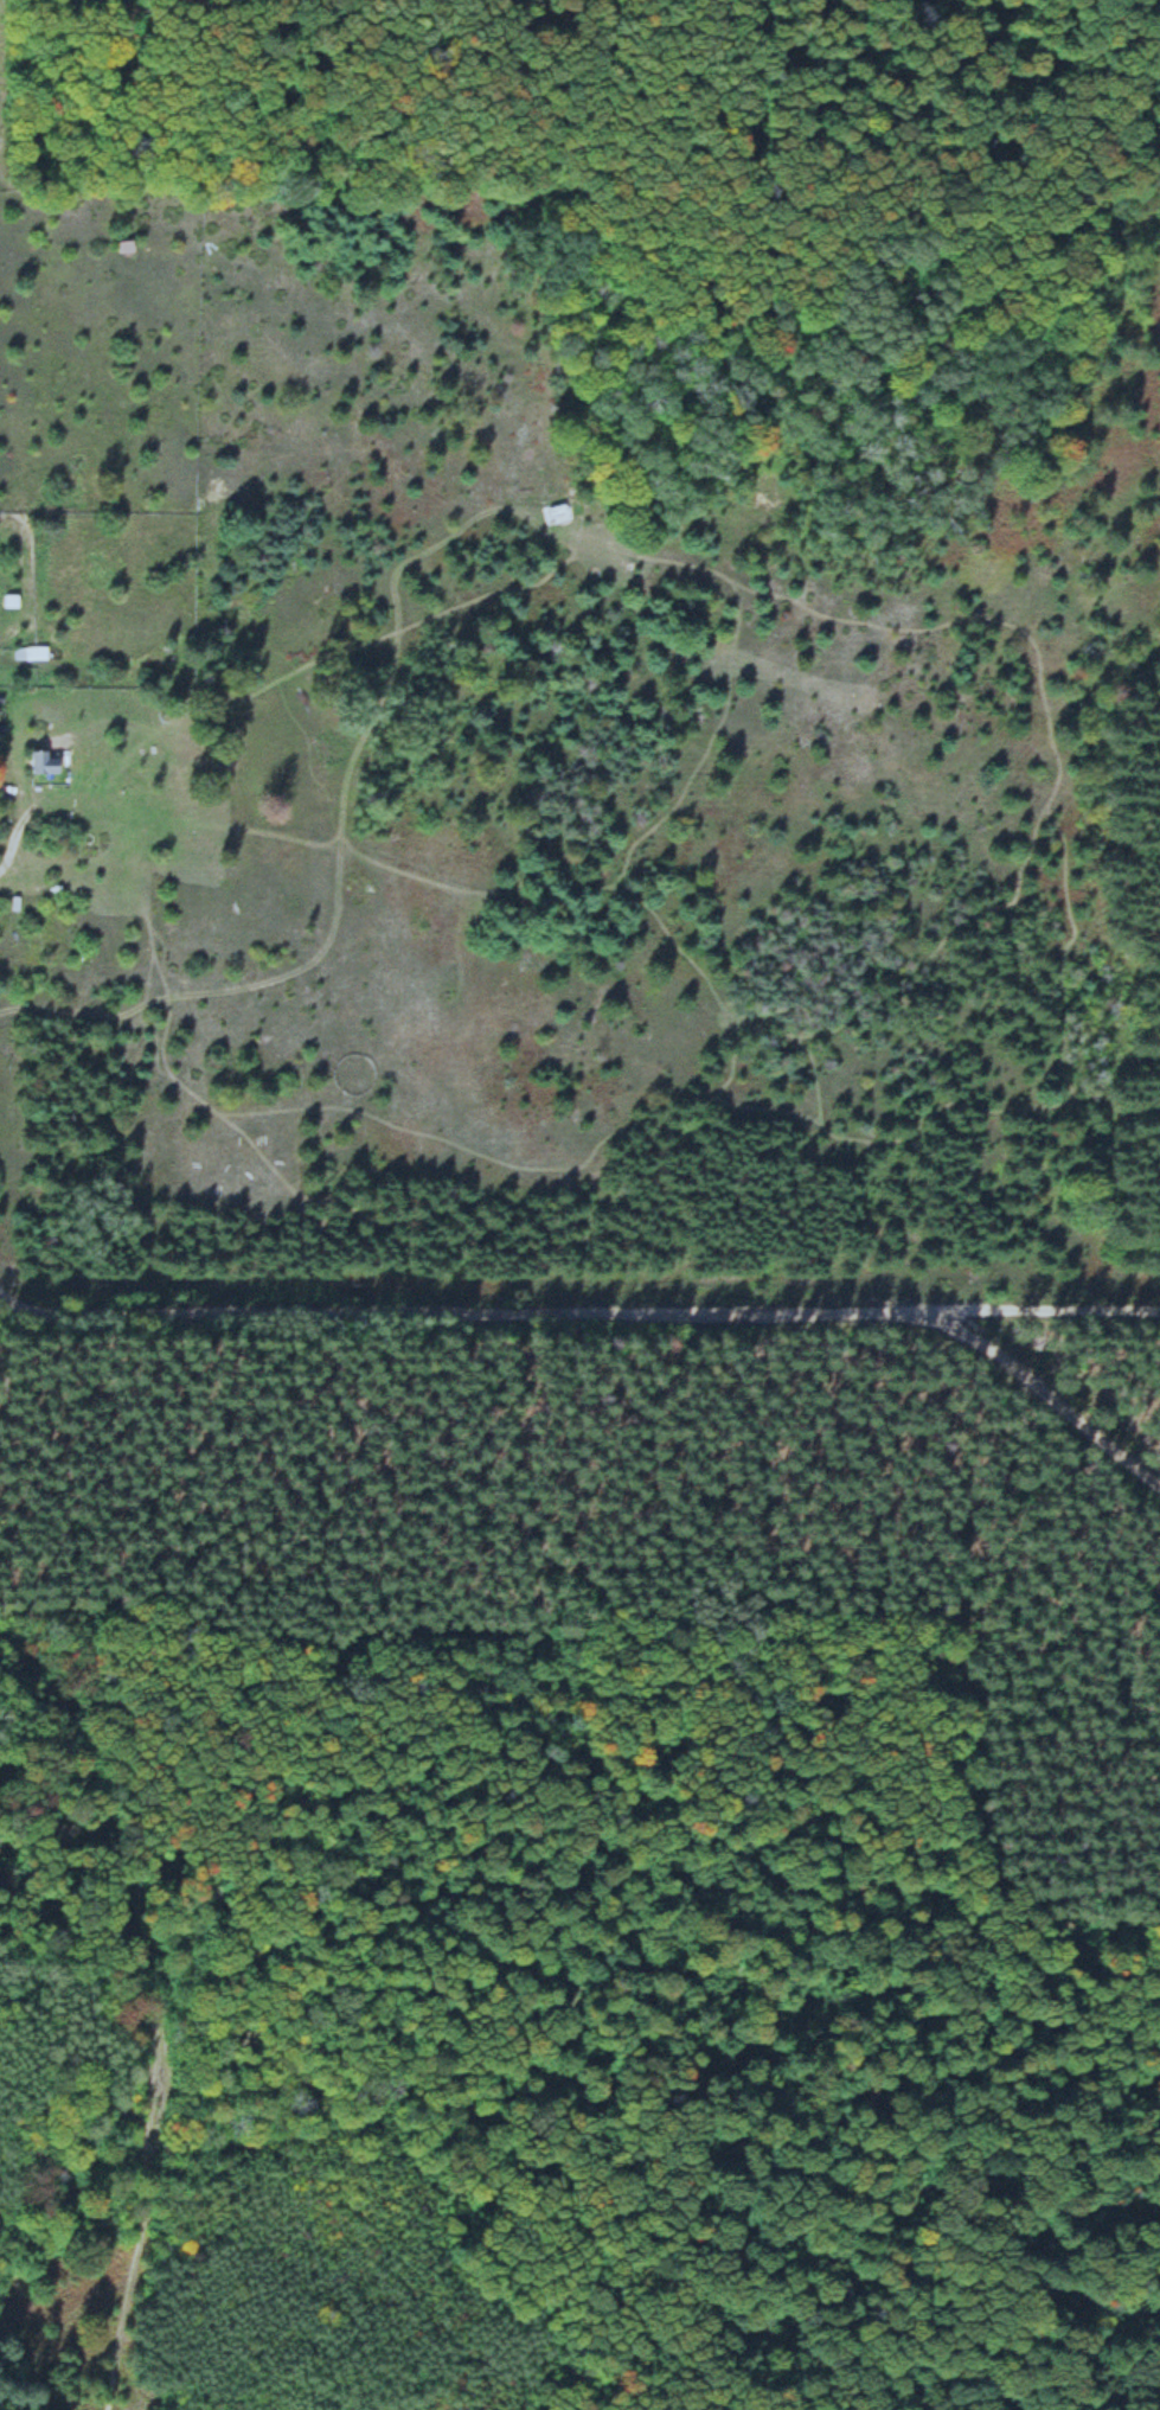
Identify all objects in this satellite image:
building: (27, 654)
building: (40, 762)
road: (0, 887)
road: (607, 1309)
road: (1032, 1312)
road: (111, 1797)
road: (156, 1823)

